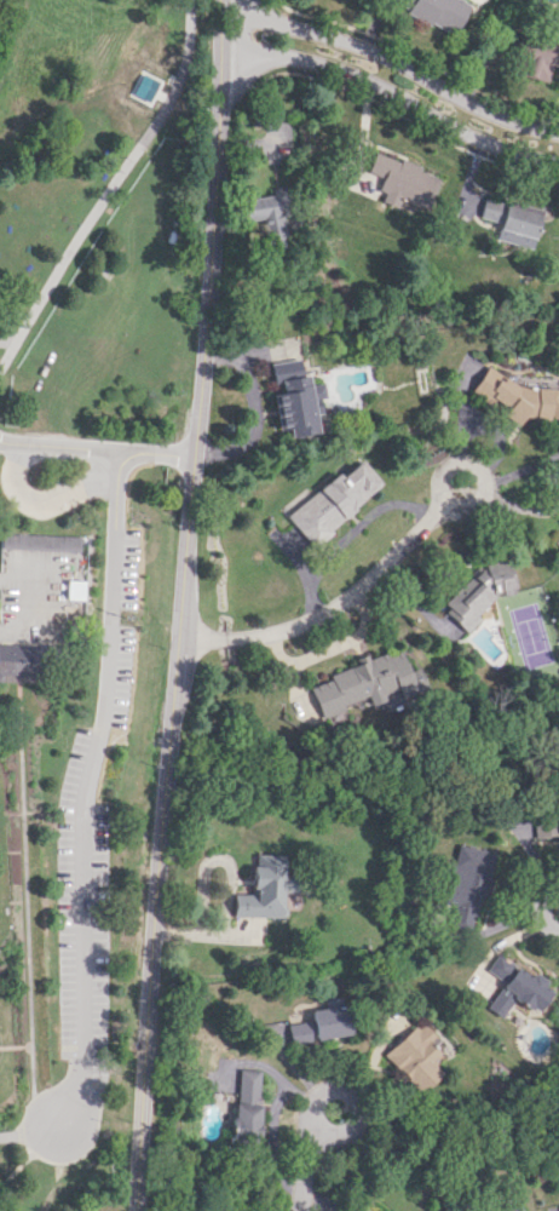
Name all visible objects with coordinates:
building: (437, 11)
road: (394, 56)
building: (536, 56)
road: (393, 94)
building: (403, 182)
road: (110, 190)
building: (267, 217)
building: (511, 220)
road: (7, 340)
building: (518, 396)
building: (294, 397)
road: (252, 404)
road: (57, 446)
road: (155, 450)
road: (482, 474)
road: (53, 497)
building: (333, 500)
building: (39, 540)
building: (555, 543)
park: (83, 549)
building: (73, 589)
building: (476, 593)
road: (179, 605)
road: (330, 612)
building: (18, 662)
building: (363, 683)
road: (88, 771)
building: (557, 819)
building: (467, 884)
building: (265, 888)
road: (542, 907)
parking lot: (82, 928)
building: (517, 987)
building: (322, 1025)
building: (415, 1056)
road: (33, 1101)
building: (248, 1103)
road: (355, 1123)
road: (13, 1135)
road: (305, 1167)
building: (511, 1209)

